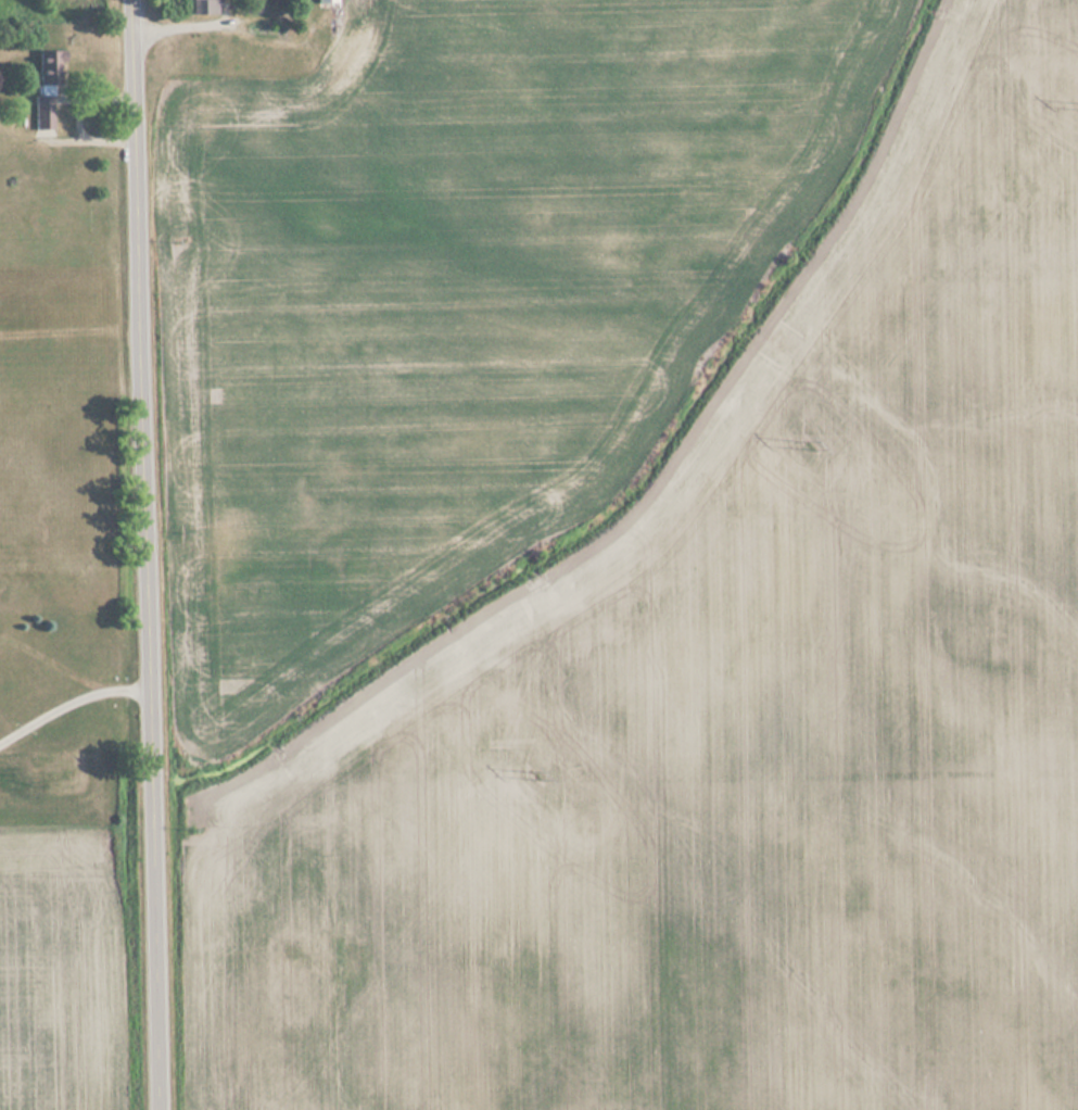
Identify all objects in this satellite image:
building: (325, 2)
building: (202, 8)
building: (47, 84)
power tower: (815, 446)
road: (141, 555)
road: (66, 699)
power tower: (534, 774)

